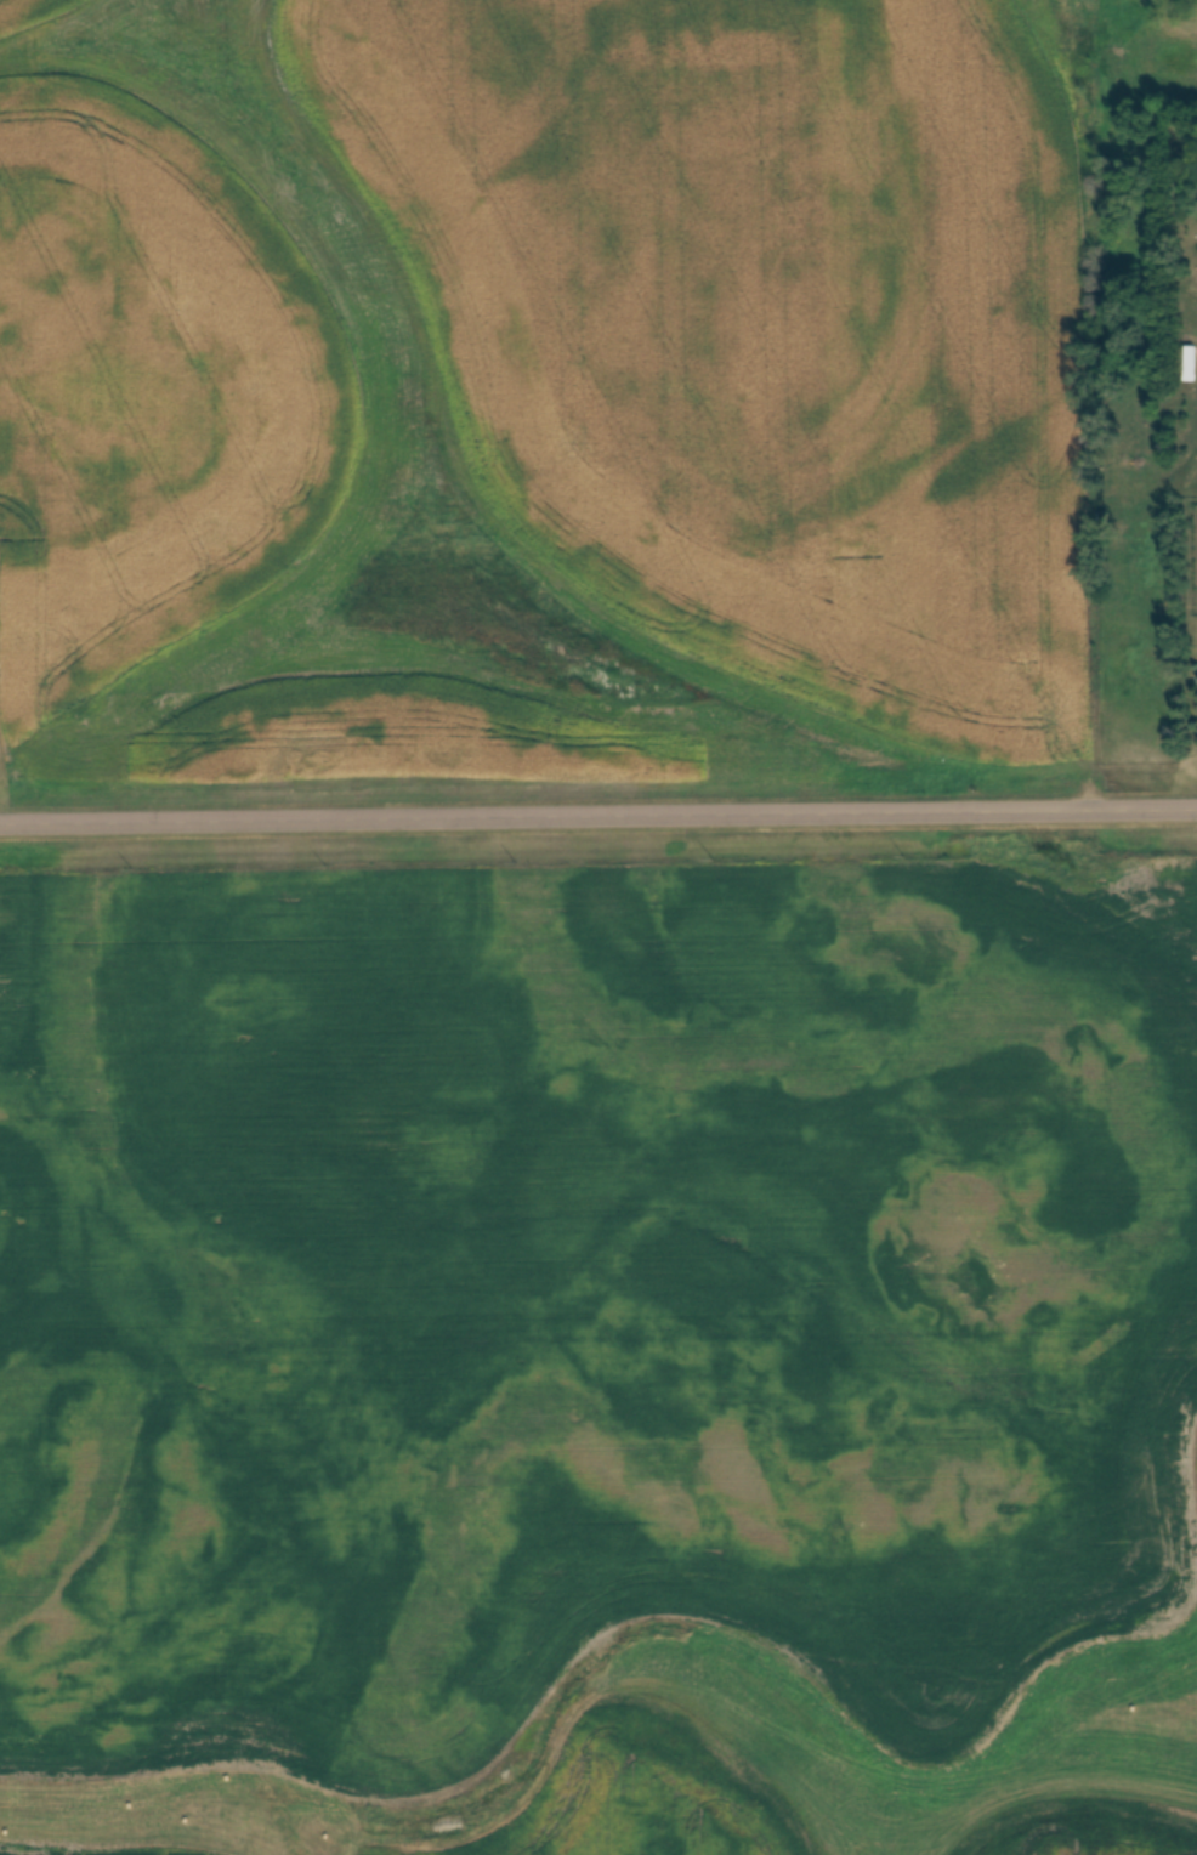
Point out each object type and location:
road: (598, 818)

